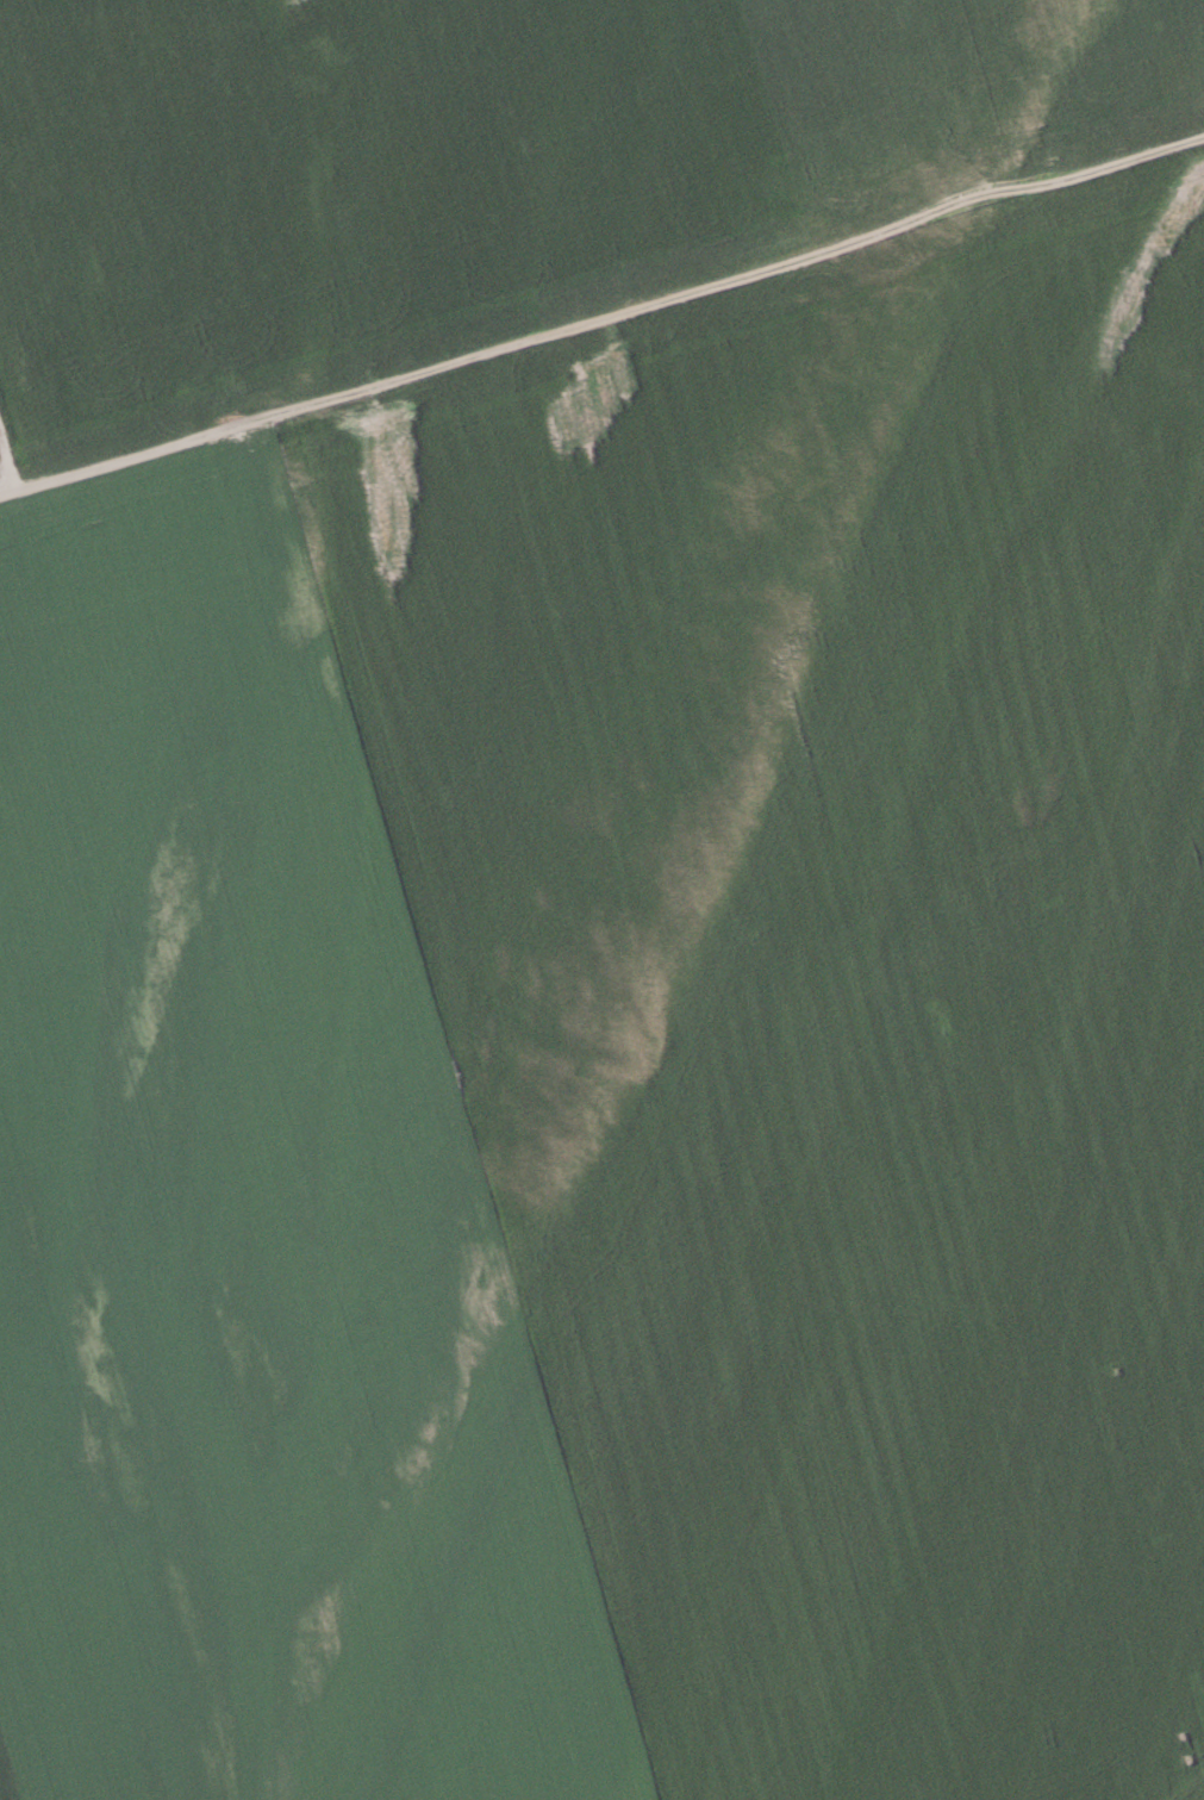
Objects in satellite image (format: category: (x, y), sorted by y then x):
road: (603, 319)
crop: (601, 899)

